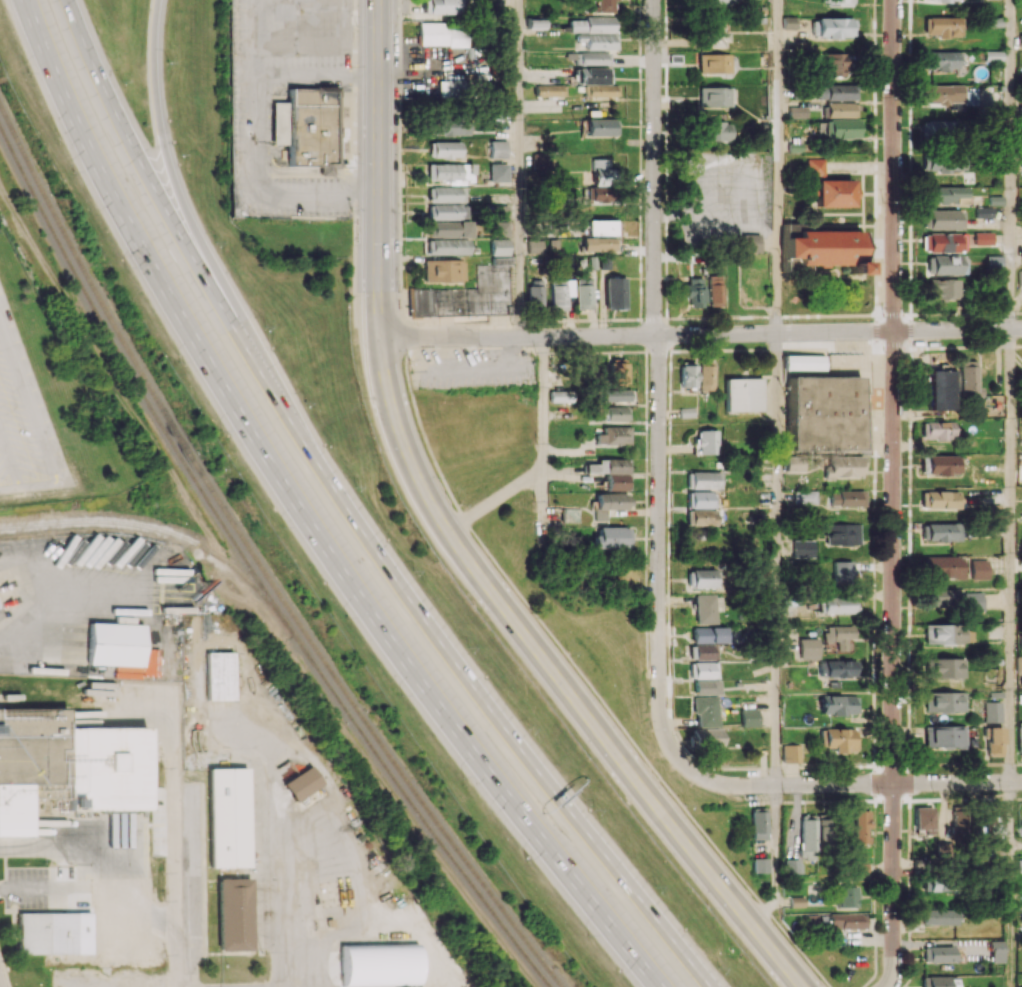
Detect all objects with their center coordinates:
building: (940, 0)
building: (718, 1)
building: (838, 2)
building: (442, 6)
building: (603, 6)
building: (789, 22)
building: (599, 24)
building: (576, 26)
building: (943, 26)
building: (834, 27)
building: (444, 34)
building: (712, 34)
building: (1020, 40)
building: (601, 41)
road: (254, 43)
building: (993, 56)
building: (590, 58)
building: (943, 60)
building: (714, 63)
building: (832, 64)
road: (320, 75)
building: (590, 75)
building: (451, 88)
building: (549, 90)
building: (601, 90)
building: (834, 92)
building: (945, 94)
building: (714, 96)
building: (840, 109)
building: (795, 112)
building: (449, 127)
building: (602, 127)
building: (839, 128)
building: (941, 130)
building: (717, 131)
building: (444, 149)
building: (497, 149)
building: (943, 162)
road: (1012, 164)
road: (780, 166)
building: (814, 166)
road: (520, 169)
building: (601, 171)
building: (449, 172)
building: (498, 172)
road: (261, 188)
building: (834, 193)
building: (447, 194)
building: (599, 194)
building: (944, 194)
road: (163, 206)
road: (185, 210)
building: (448, 211)
building: (983, 212)
building: (942, 219)
building: (500, 221)
building: (602, 227)
building: (449, 229)
building: (983, 238)
building: (750, 242)
building: (600, 244)
building: (448, 246)
building: (499, 246)
building: (538, 246)
building: (821, 247)
building: (994, 263)
building: (944, 264)
building: (444, 270)
railway: (25, 272)
road: (378, 274)
building: (943, 289)
building: (715, 290)
building: (694, 292)
building: (535, 293)
building: (560, 293)
building: (615, 293)
building: (469, 294)
building: (584, 296)
road: (700, 333)
building: (803, 362)
building: (617, 373)
building: (688, 376)
building: (706, 378)
building: (968, 382)
road: (659, 384)
building: (940, 389)
road: (893, 391)
building: (742, 394)
building: (617, 395)
building: (561, 396)
road: (30, 402)
building: (615, 413)
building: (821, 413)
parking lot: (25, 421)
building: (937, 430)
building: (614, 435)
building: (707, 441)
road: (545, 445)
road: (9, 459)
building: (791, 463)
building: (940, 464)
building: (842, 467)
building: (612, 472)
building: (704, 480)
road: (30, 484)
building: (803, 496)
building: (845, 498)
building: (701, 499)
building: (940, 499)
road: (496, 503)
building: (609, 504)
building: (571, 515)
road: (303, 516)
building: (702, 517)
railway: (168, 532)
building: (940, 532)
building: (842, 534)
building: (612, 538)
building: (802, 548)
road: (1013, 555)
railway: (257, 558)
road: (779, 559)
building: (943, 566)
railway: (252, 569)
building: (980, 569)
building: (842, 570)
building: (703, 578)
building: (942, 598)
road: (50, 600)
road: (95, 600)
building: (973, 601)
building: (839, 605)
building: (706, 609)
building: (715, 634)
building: (944, 634)
building: (838, 635)
building: (808, 647)
building: (703, 652)
building: (943, 667)
building: (837, 668)
building: (705, 670)
building: (219, 676)
building: (706, 687)
building: (944, 701)
road: (484, 702)
building: (839, 704)
building: (704, 711)
building: (992, 711)
building: (748, 717)
building: (944, 736)
building: (708, 738)
building: (841, 739)
building: (1019, 739)
building: (994, 741)
building: (791, 753)
road: (623, 762)
building: (68, 765)
road: (957, 781)
building: (302, 783)
road: (784, 784)
road: (391, 785)
building: (227, 817)
building: (924, 819)
building: (995, 821)
building: (758, 825)
building: (860, 826)
building: (807, 837)
building: (945, 849)
road: (778, 860)
building: (759, 865)
building: (1019, 865)
building: (792, 866)
building: (861, 867)
road: (175, 868)
road: (92, 873)
building: (938, 883)
road: (1013, 884)
road: (893, 885)
building: (848, 896)
building: (797, 901)
building: (233, 914)
road: (297, 915)
building: (939, 916)
building: (847, 921)
building: (46, 933)
building: (856, 939)
building: (997, 951)
building: (938, 953)
building: (940, 981)

